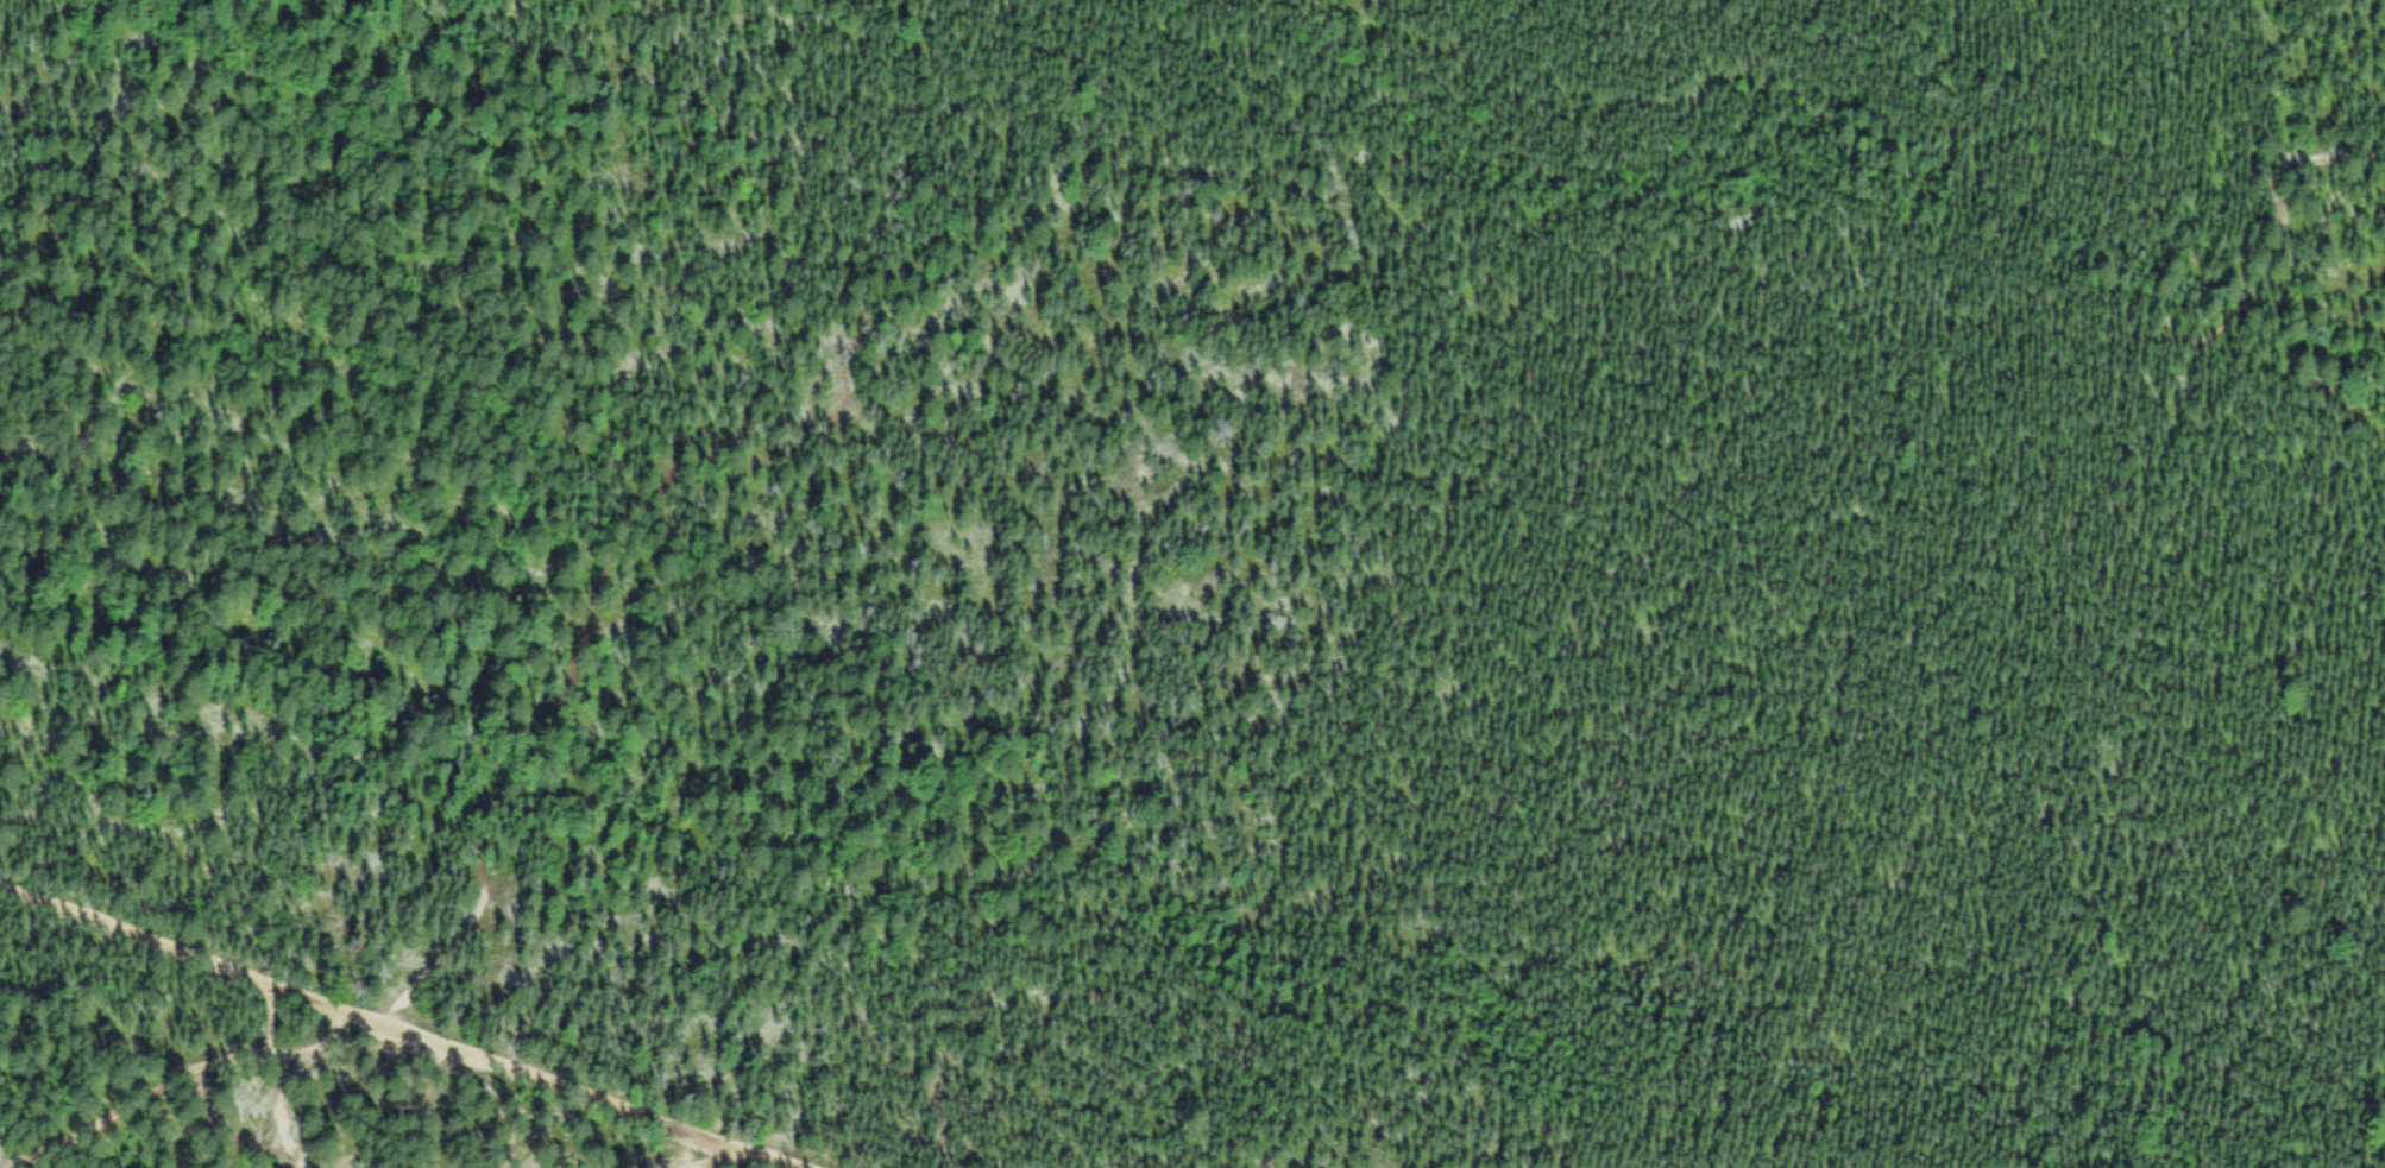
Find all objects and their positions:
road: (2273, 194)
road: (391, 1031)
road: (189, 1072)
road: (694, 1158)

